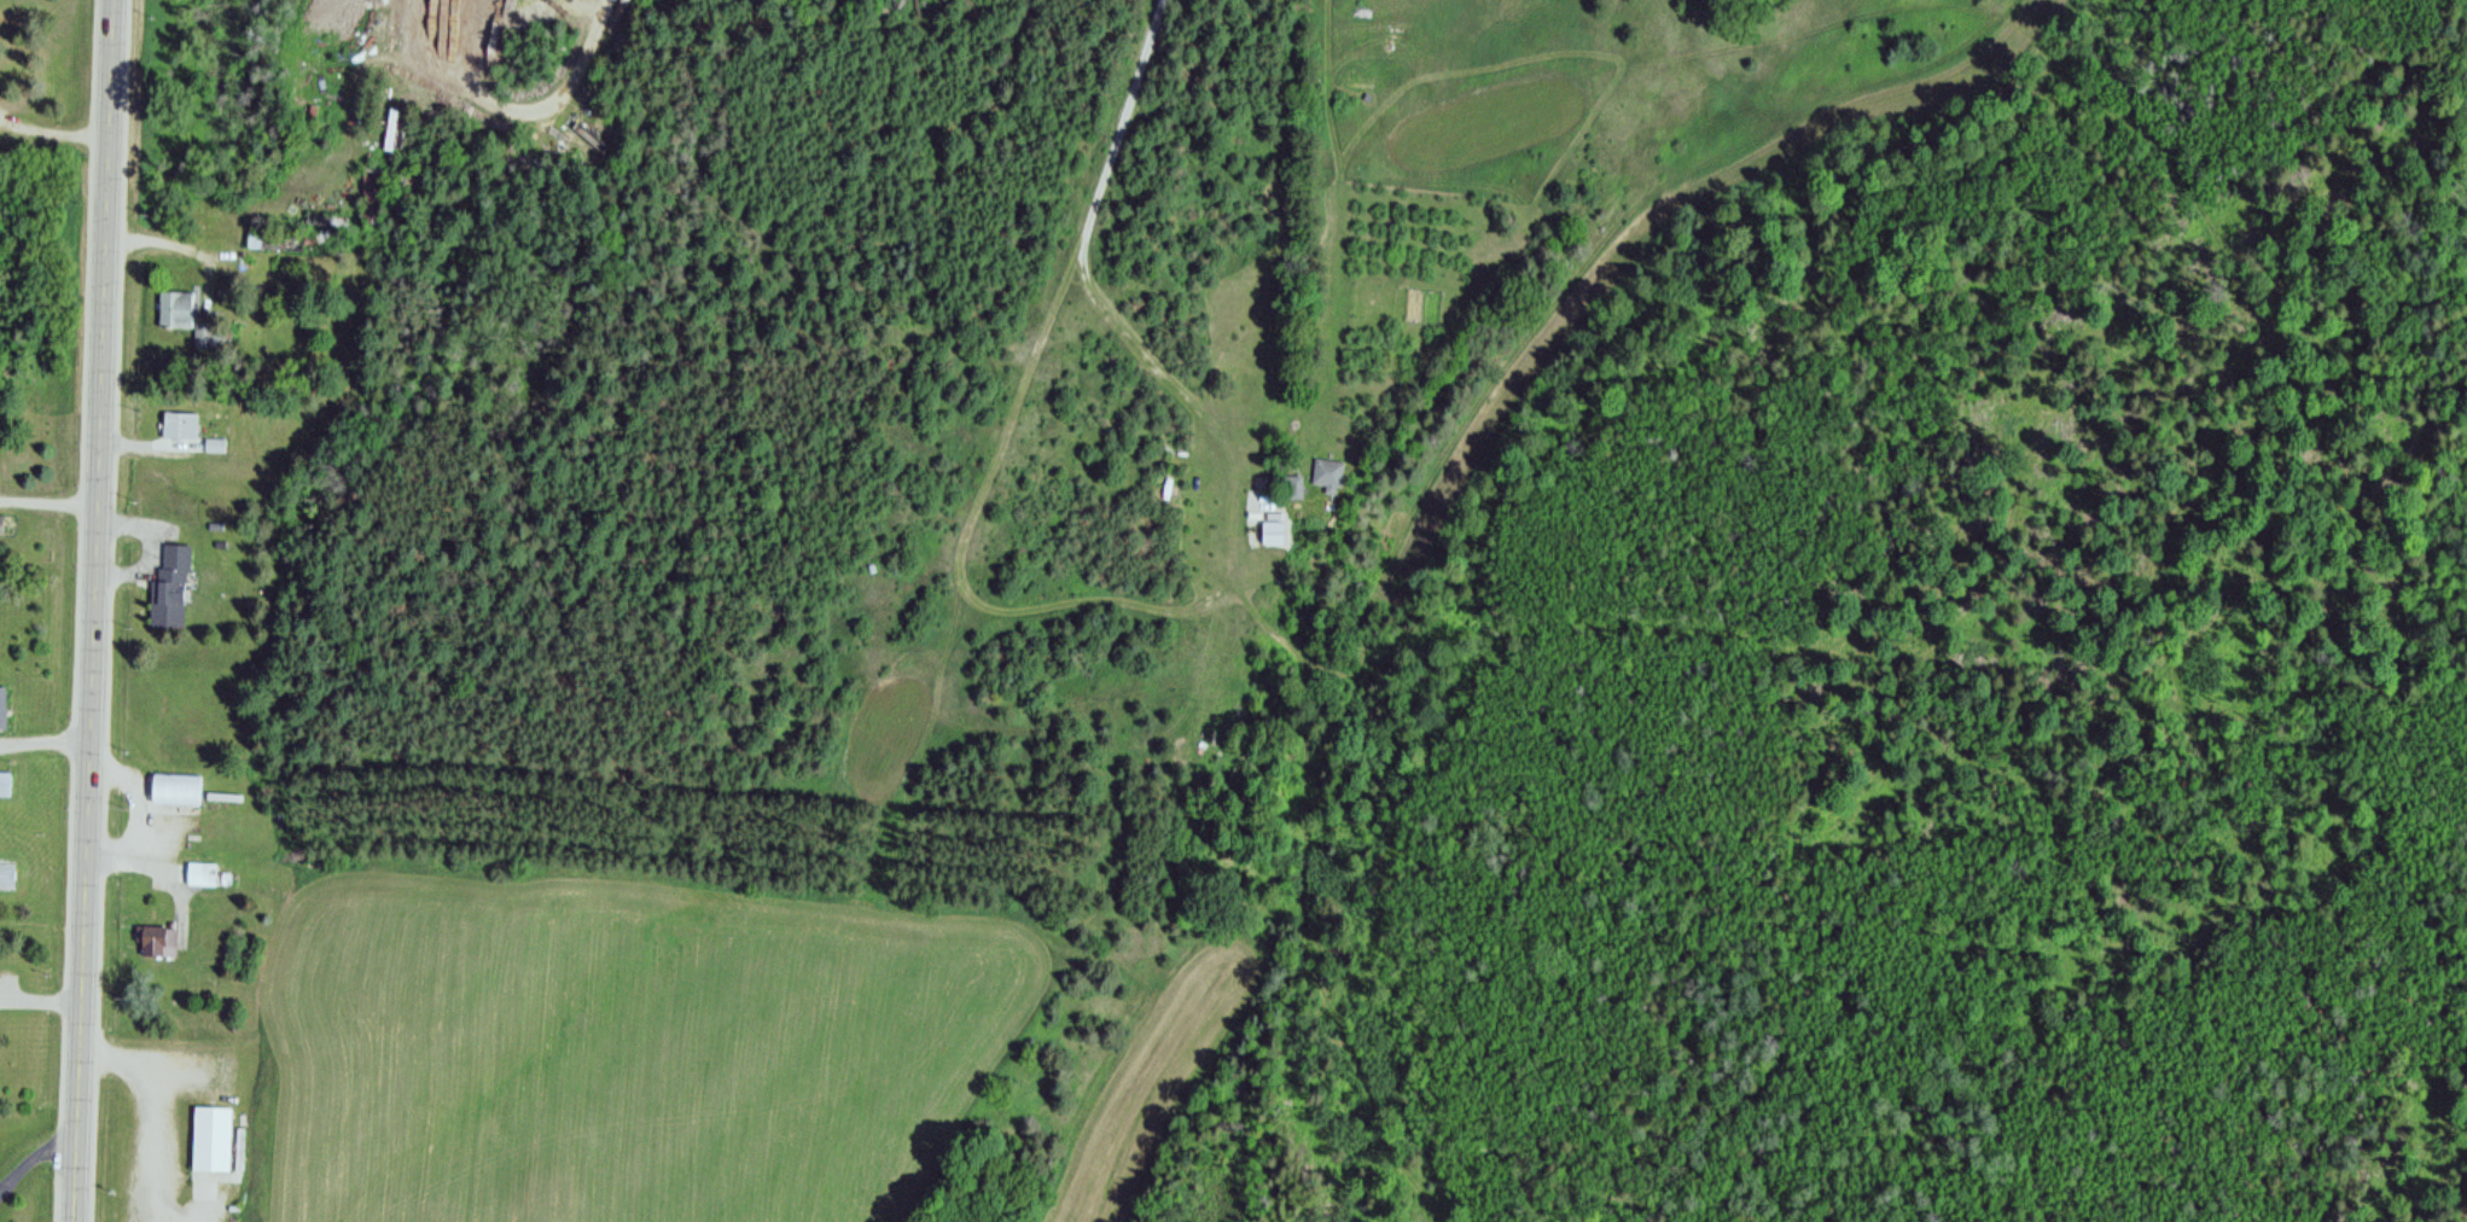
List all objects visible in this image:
road: (511, 106)
road: (1117, 120)
road: (51, 130)
road: (2181, 191)
building: (367, 193)
building: (270, 242)
building: (184, 315)
building: (175, 425)
building: (211, 443)
building: (1329, 462)
building: (1290, 475)
building: (1326, 477)
building: (1292, 489)
building: (1275, 516)
building: (1, 526)
road: (147, 547)
building: (168, 586)
road: (1099, 600)
road: (1264, 609)
road: (88, 610)
building: (2, 704)
road: (41, 741)
building: (2, 784)
building: (173, 789)
road: (132, 801)
road: (158, 872)
building: (197, 874)
building: (222, 878)
building: (149, 943)
road: (1304, 954)
road: (146, 1067)
building: (206, 1140)
road: (149, 1145)
road: (30, 1157)

